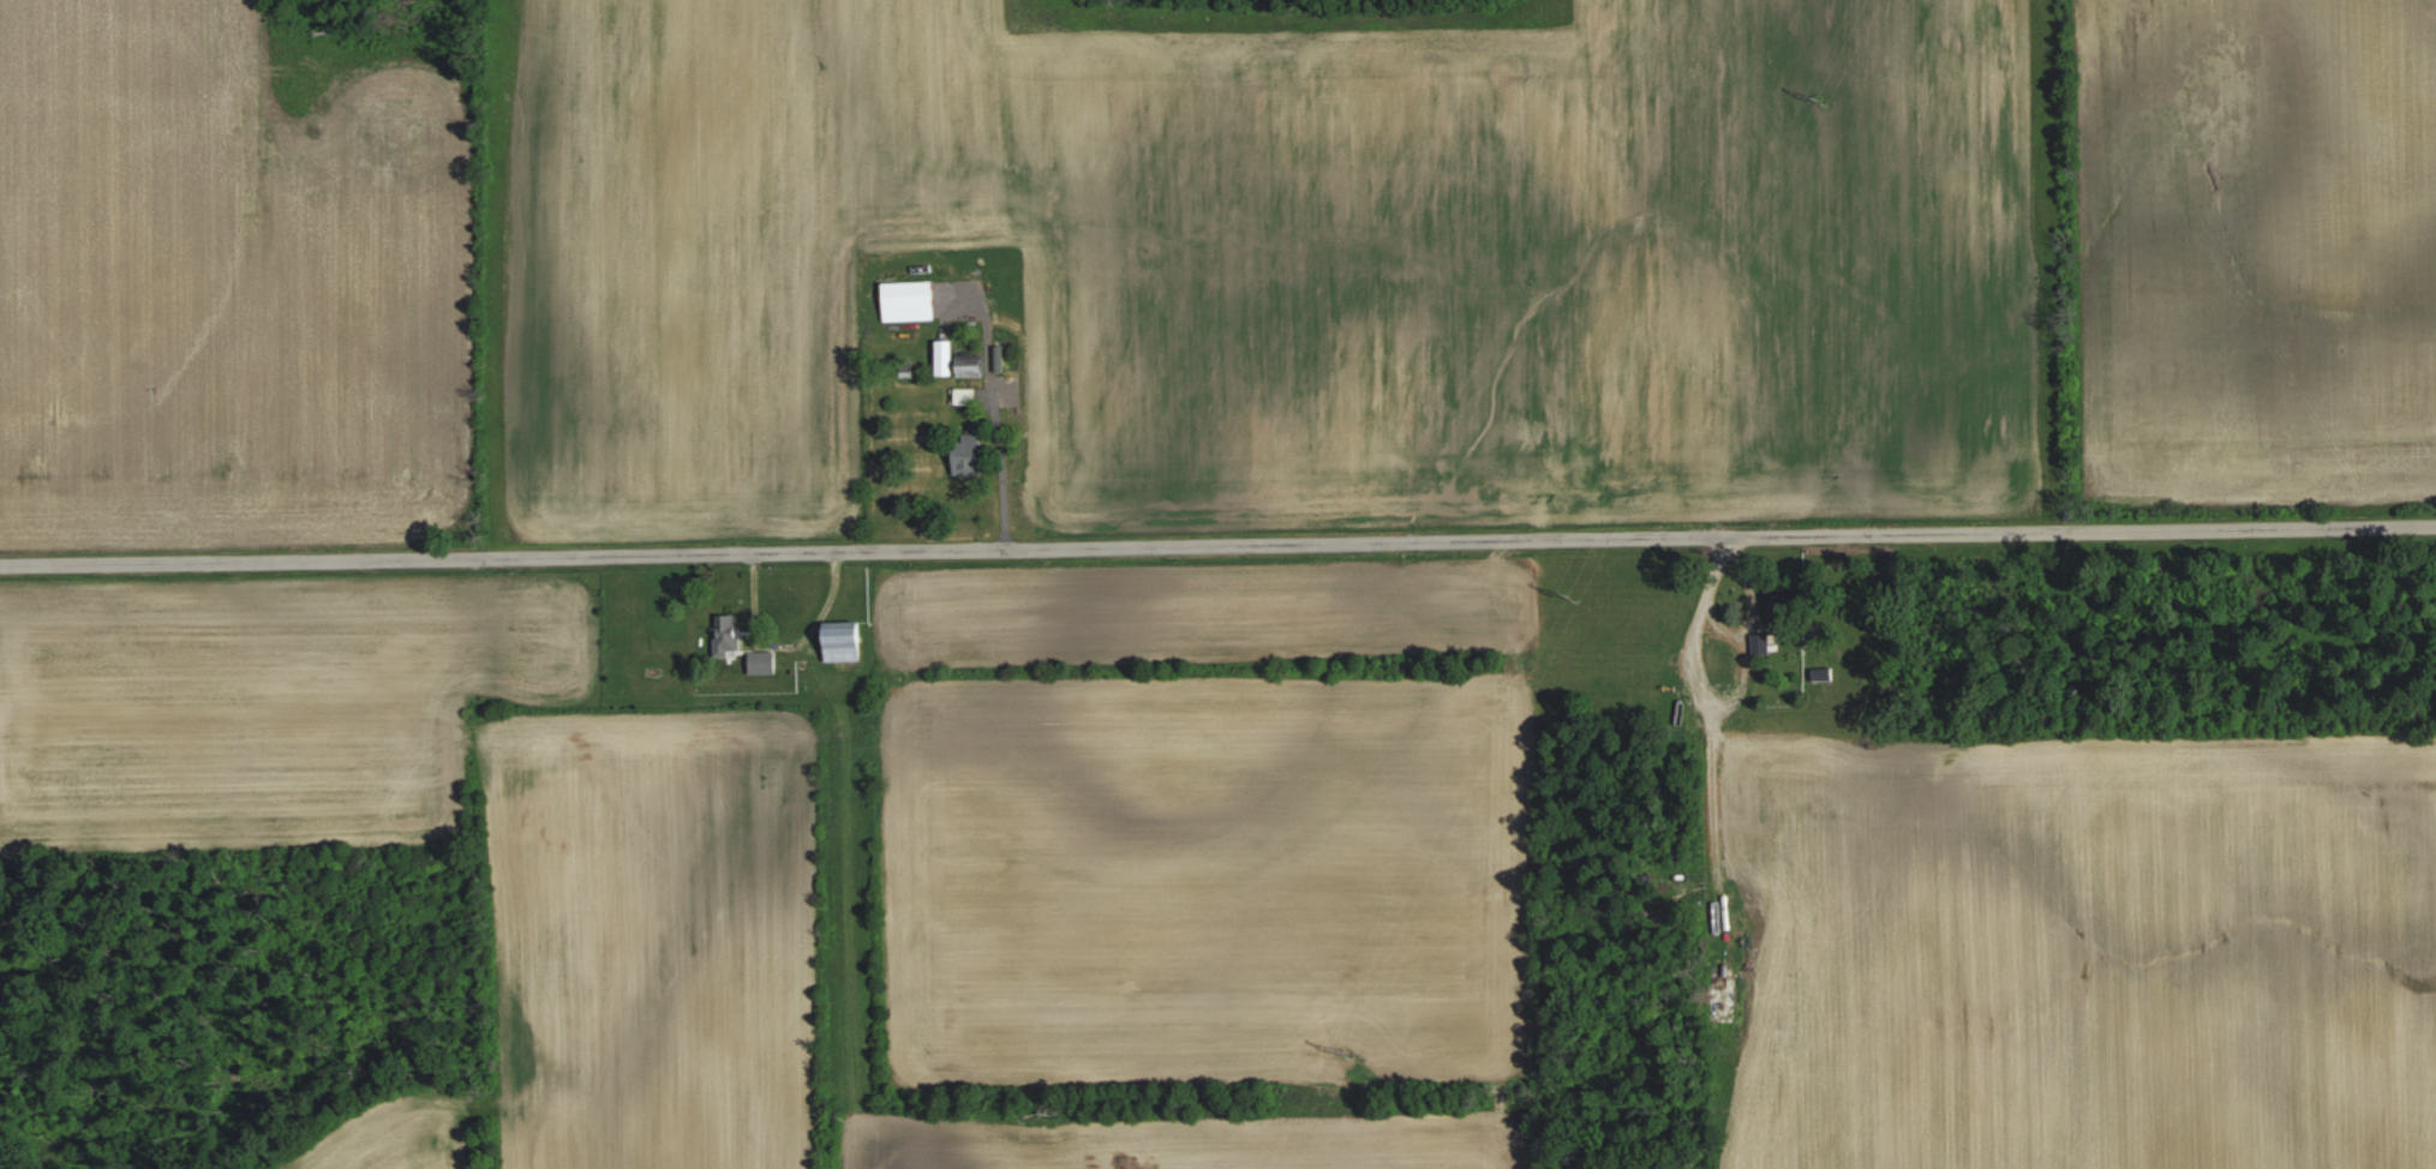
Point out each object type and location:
power tower: (1838, 107)
building: (999, 358)
building: (971, 367)
building: (965, 395)
building: (968, 455)
road: (1217, 539)
road: (1748, 589)
power tower: (1588, 600)
building: (1783, 612)
building: (726, 633)
building: (843, 641)
building: (1760, 643)
road: (1744, 651)
building: (761, 661)
building: (1821, 672)
road: (1711, 718)
power tower: (1352, 1056)

